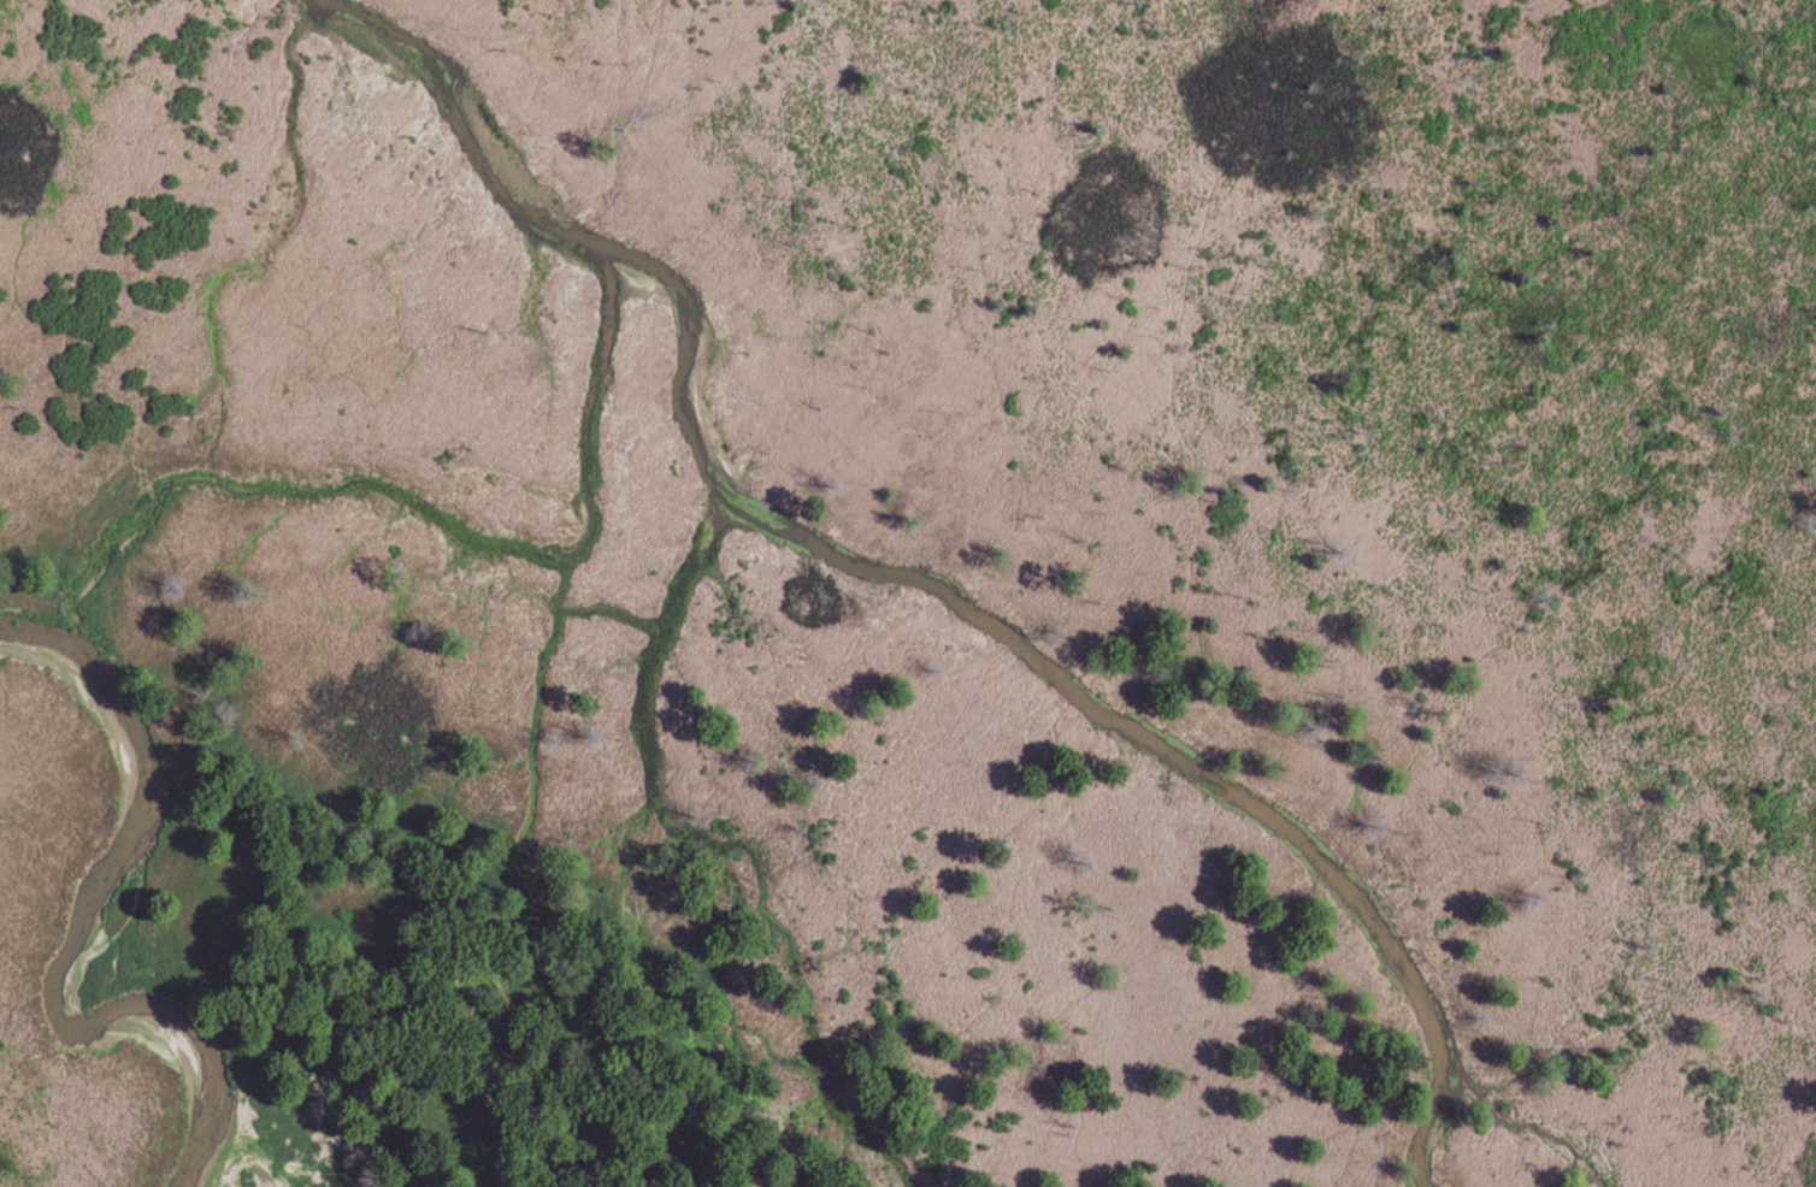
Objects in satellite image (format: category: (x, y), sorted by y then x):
river: (81, 926)

